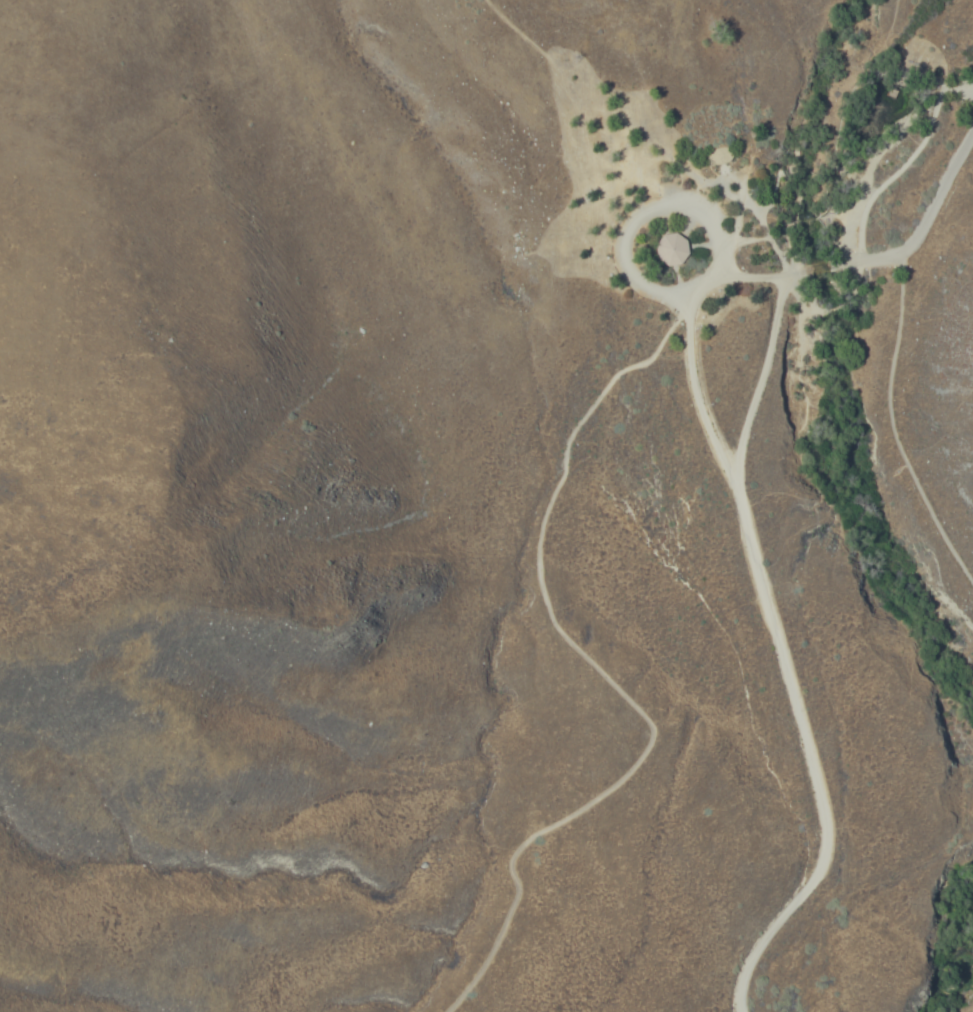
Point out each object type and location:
parking lot: (972, 77)
road: (849, 90)
road: (791, 124)
road: (564, 165)
road: (883, 183)
road: (806, 214)
building: (673, 250)
road: (804, 272)
road: (753, 280)
road: (686, 327)
road: (894, 427)
road: (602, 675)
road: (803, 759)

